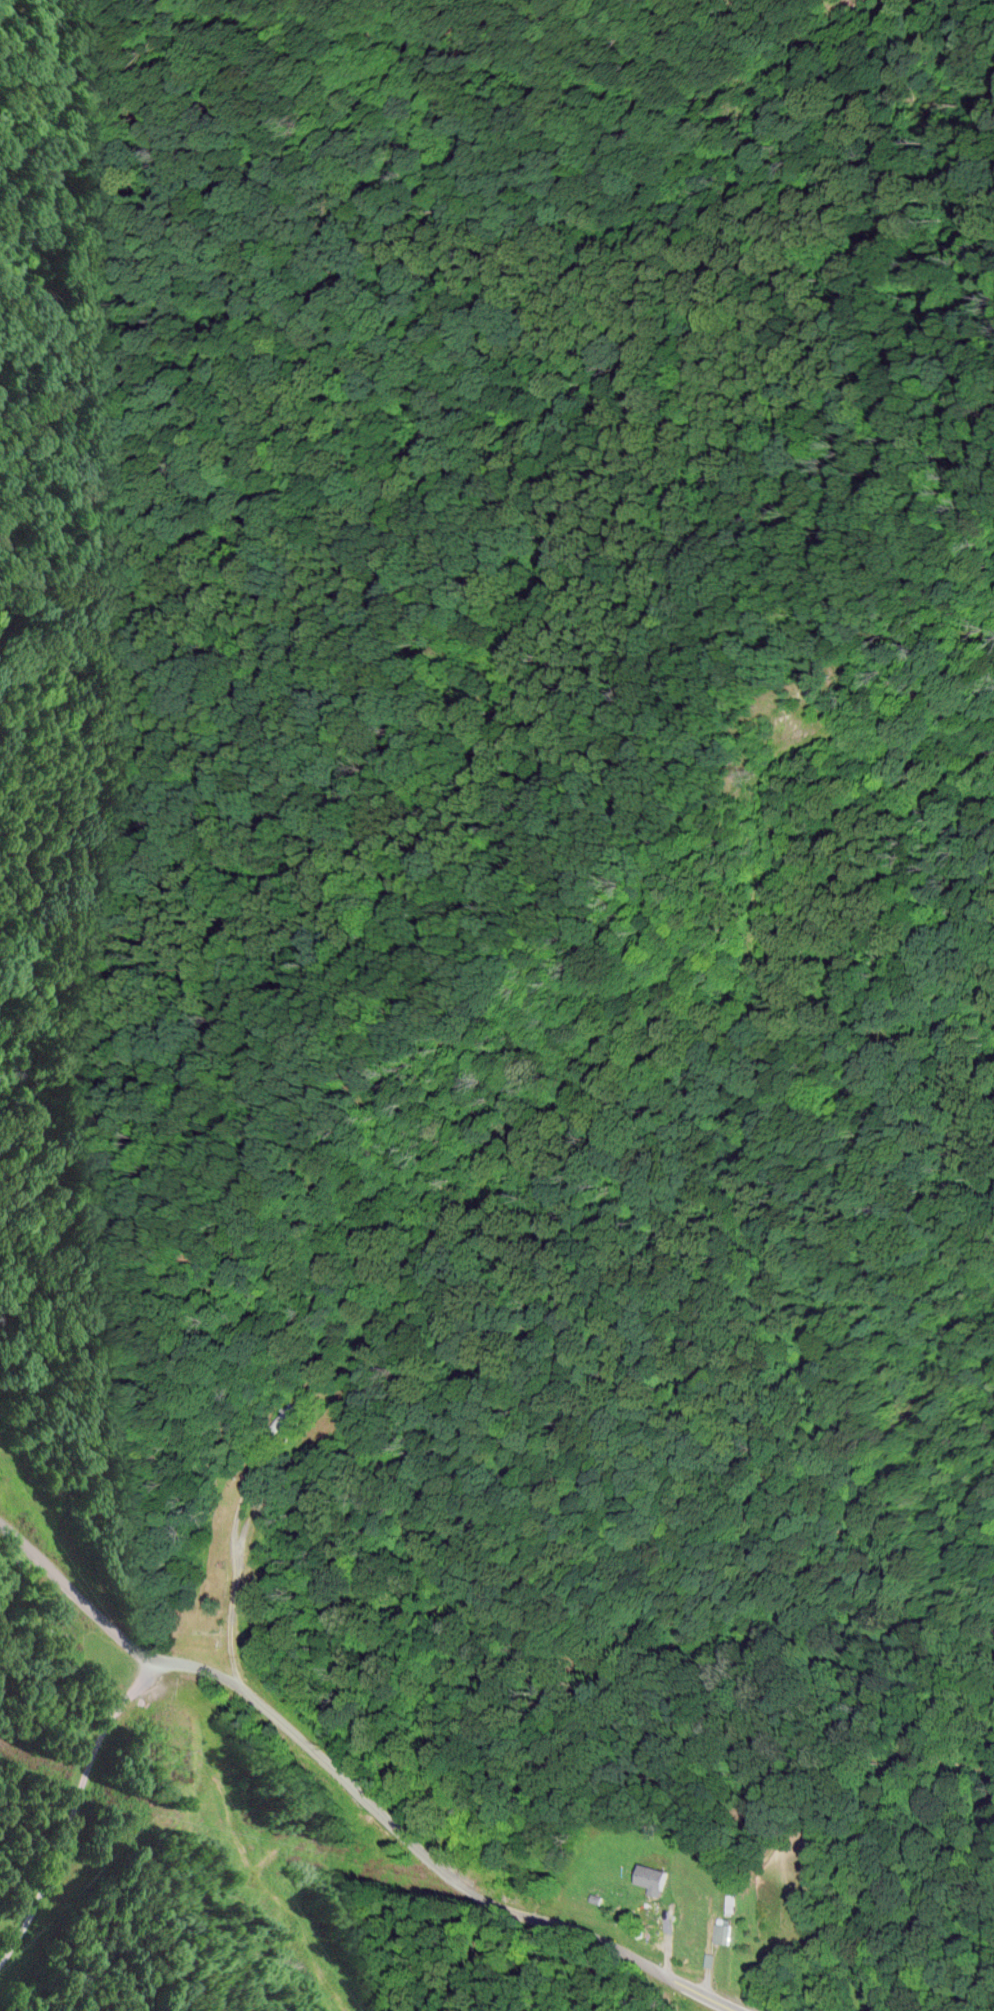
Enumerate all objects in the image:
building: (283, 1417)
power tower: (176, 1736)
road: (364, 1785)
road: (70, 1807)
building: (646, 1902)
building: (734, 1902)
building: (726, 1929)

